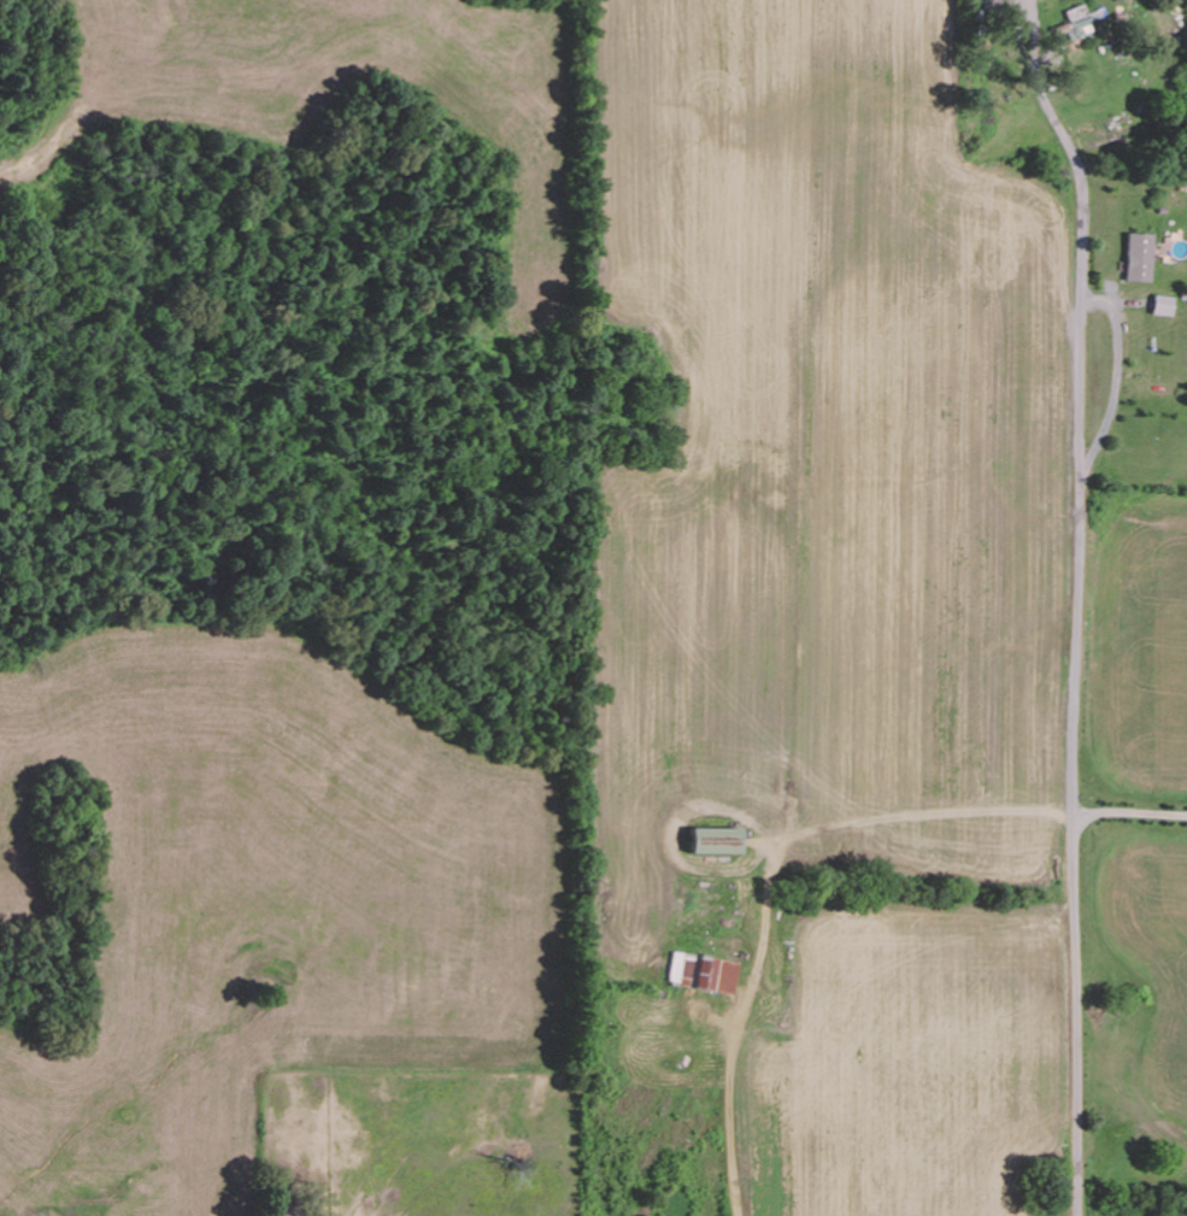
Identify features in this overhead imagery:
building: (994, 7)
building: (1075, 22)
building: (1139, 257)
building: (1162, 305)
road: (1076, 609)
building: (713, 839)
building: (706, 971)

